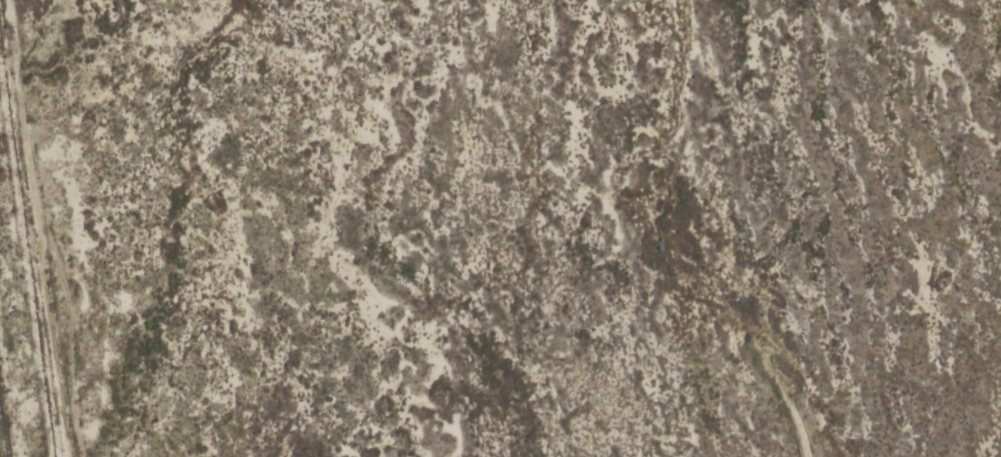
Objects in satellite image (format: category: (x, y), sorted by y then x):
road: (38, 228)

